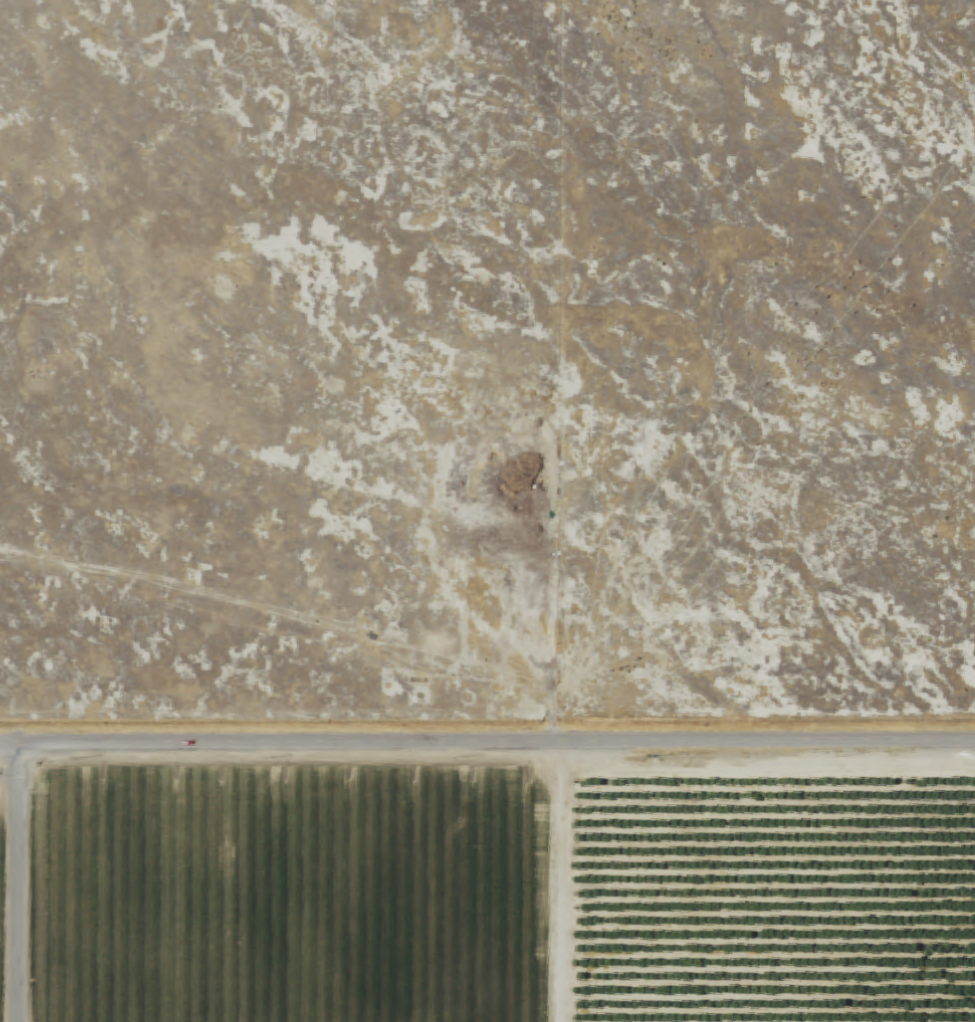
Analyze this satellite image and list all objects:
road: (487, 741)
road: (560, 881)
road: (21, 882)

